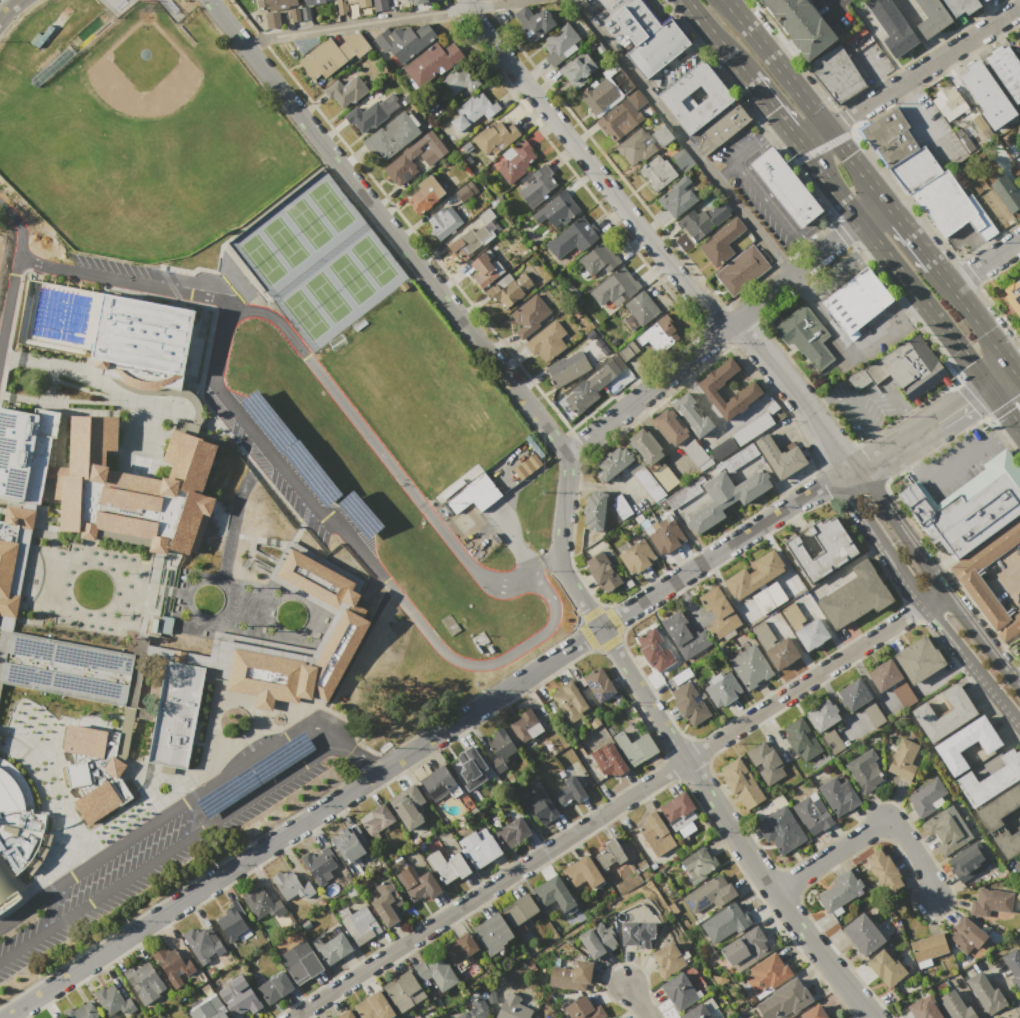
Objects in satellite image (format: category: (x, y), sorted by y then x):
building: (315, 1)
building: (987, 1)
building: (362, 2)
building: (420, 2)
building: (613, 3)
building: (276, 4)
building: (379, 4)
road: (835, 4)
building: (343, 6)
building: (962, 7)
road: (10, 13)
building: (306, 13)
building: (294, 15)
building: (931, 17)
building: (271, 20)
road: (378, 21)
building: (635, 21)
building: (534, 22)
building: (801, 25)
building: (893, 27)
road: (914, 30)
road: (715, 38)
building: (405, 41)
building: (559, 43)
building: (657, 48)
building: (1017, 49)
road: (686, 54)
building: (333, 55)
building: (432, 63)
building: (578, 70)
building: (1006, 70)
road: (874, 73)
building: (837, 74)
road: (910, 76)
building: (460, 79)
building: (621, 82)
building: (346, 91)
building: (599, 95)
building: (986, 95)
building: (719, 97)
road: (806, 99)
building: (948, 102)
building: (473, 112)
road: (773, 112)
building: (372, 113)
building: (623, 116)
road: (923, 119)
building: (725, 125)
building: (391, 136)
building: (661, 136)
building: (495, 137)
building: (889, 137)
building: (635, 147)
building: (416, 158)
building: (515, 159)
building: (681, 159)
road: (592, 168)
building: (914, 170)
road: (729, 171)
building: (658, 173)
road: (717, 176)
road: (829, 184)
building: (536, 185)
road: (757, 186)
building: (786, 188)
building: (466, 191)
building: (425, 194)
building: (1007, 196)
building: (986, 197)
building: (677, 198)
building: (945, 205)
building: (556, 209)
road: (872, 210)
building: (703, 221)
building: (444, 222)
road: (910, 231)
building: (573, 237)
building: (469, 242)
building: (721, 243)
park: (0, 245)
building: (599, 259)
road: (986, 262)
building: (486, 270)
building: (741, 270)
road: (18, 273)
road: (943, 273)
road: (124, 279)
building: (615, 286)
building: (508, 289)
building: (1013, 296)
road: (447, 300)
building: (857, 300)
road: (923, 303)
traffic signals: (923, 303)
building: (640, 310)
building: (530, 316)
road: (983, 326)
road: (888, 328)
building: (658, 334)
building: (142, 335)
building: (805, 336)
road: (713, 337)
building: (547, 341)
building: (627, 351)
building: (907, 367)
traffic signals: (1016, 368)
building: (567, 369)
road: (1018, 370)
road: (1001, 377)
building: (708, 387)
traffic signals: (987, 387)
road: (795, 390)
building: (585, 392)
park: (416, 394)
road: (872, 395)
road: (1003, 410)
building: (692, 415)
road: (866, 425)
building: (670, 427)
building: (752, 428)
road: (1004, 429)
road: (918, 432)
building: (646, 446)
building: (723, 448)
road: (378, 449)
building: (25, 451)
building: (695, 452)
road: (910, 453)
building: (779, 457)
building: (87, 458)
building: (738, 458)
building: (189, 460)
building: (613, 463)
road: (954, 465)
building: (665, 476)
building: (651, 486)
building: (474, 494)
building: (725, 497)
building: (70, 502)
building: (620, 506)
building: (969, 507)
road: (233, 509)
building: (595, 511)
building: (20, 517)
building: (192, 523)
building: (126, 531)
building: (666, 537)
road: (515, 543)
building: (821, 548)
road: (362, 553)
building: (637, 557)
road: (545, 565)
building: (7, 568)
building: (603, 572)
building: (752, 575)
road: (934, 576)
road: (1002, 576)
parking lot: (1003, 577)
building: (974, 587)
building: (767, 597)
building: (854, 597)
road: (922, 605)
building: (719, 613)
building: (804, 626)
building: (336, 628)
building: (683, 635)
building: (775, 646)
building: (654, 650)
building: (1019, 651)
building: (919, 659)
building: (748, 666)
building: (64, 668)
building: (891, 682)
building: (598, 684)
building: (0, 686)
building: (722, 688)
building: (853, 695)
building: (570, 702)
building: (688, 703)
building: (944, 712)
building: (176, 714)
building: (872, 714)
building: (525, 725)
building: (825, 725)
building: (801, 740)
building: (85, 741)
road: (425, 742)
building: (964, 742)
building: (500, 745)
building: (635, 747)
road: (362, 754)
building: (903, 759)
building: (608, 760)
building: (764, 761)
building: (114, 767)
building: (471, 768)
building: (864, 770)
building: (78, 774)
building: (989, 778)
building: (437, 782)
building: (741, 783)
building: (569, 791)
building: (837, 796)
building: (926, 796)
building: (97, 802)
road: (616, 804)
building: (408, 807)
building: (539, 808)
building: (998, 808)
building: (678, 810)
building: (811, 813)
road: (165, 814)
building: (377, 819)
road: (729, 827)
building: (948, 829)
building: (780, 830)
building: (15, 831)
road: (867, 831)
building: (512, 832)
building: (652, 837)
building: (349, 843)
building: (1008, 843)
building: (479, 848)
road: (169, 850)
building: (610, 855)
building: (967, 861)
building: (319, 865)
building: (698, 865)
building: (446, 867)
building: (884, 871)
building: (582, 872)
building: (417, 884)
building: (291, 886)
building: (839, 892)
building: (553, 893)
building: (709, 894)
building: (990, 901)
building: (387, 903)
building: (262, 904)
building: (520, 910)
building: (232, 921)
building: (728, 923)
building: (360, 924)
building: (862, 933)
building: (492, 934)
building: (637, 934)
building: (968, 938)
building: (597, 940)
building: (203, 943)
building: (1019, 945)
building: (332, 948)
building: (461, 948)
building: (744, 948)
building: (928, 949)
building: (669, 956)
building: (174, 966)
building: (1013, 966)
building: (301, 967)
building: (884, 967)
building: (436, 972)
building: (767, 974)
building: (570, 975)
building: (145, 982)
building: (275, 987)
building: (679, 990)
building: (404, 991)
building: (985, 993)
building: (239, 996)
building: (784, 999)
road: (637, 1000)
building: (113, 1001)
building: (374, 1006)
building: (955, 1006)
building: (512, 1007)
building: (923, 1008)
building: (208, 1009)
building: (475, 1009)
building: (582, 1009)
building: (699, 1010)
building: (81, 1011)
building: (814, 1012)
building: (346, 1015)
building: (551, 1017)
building: (611, 1017)

